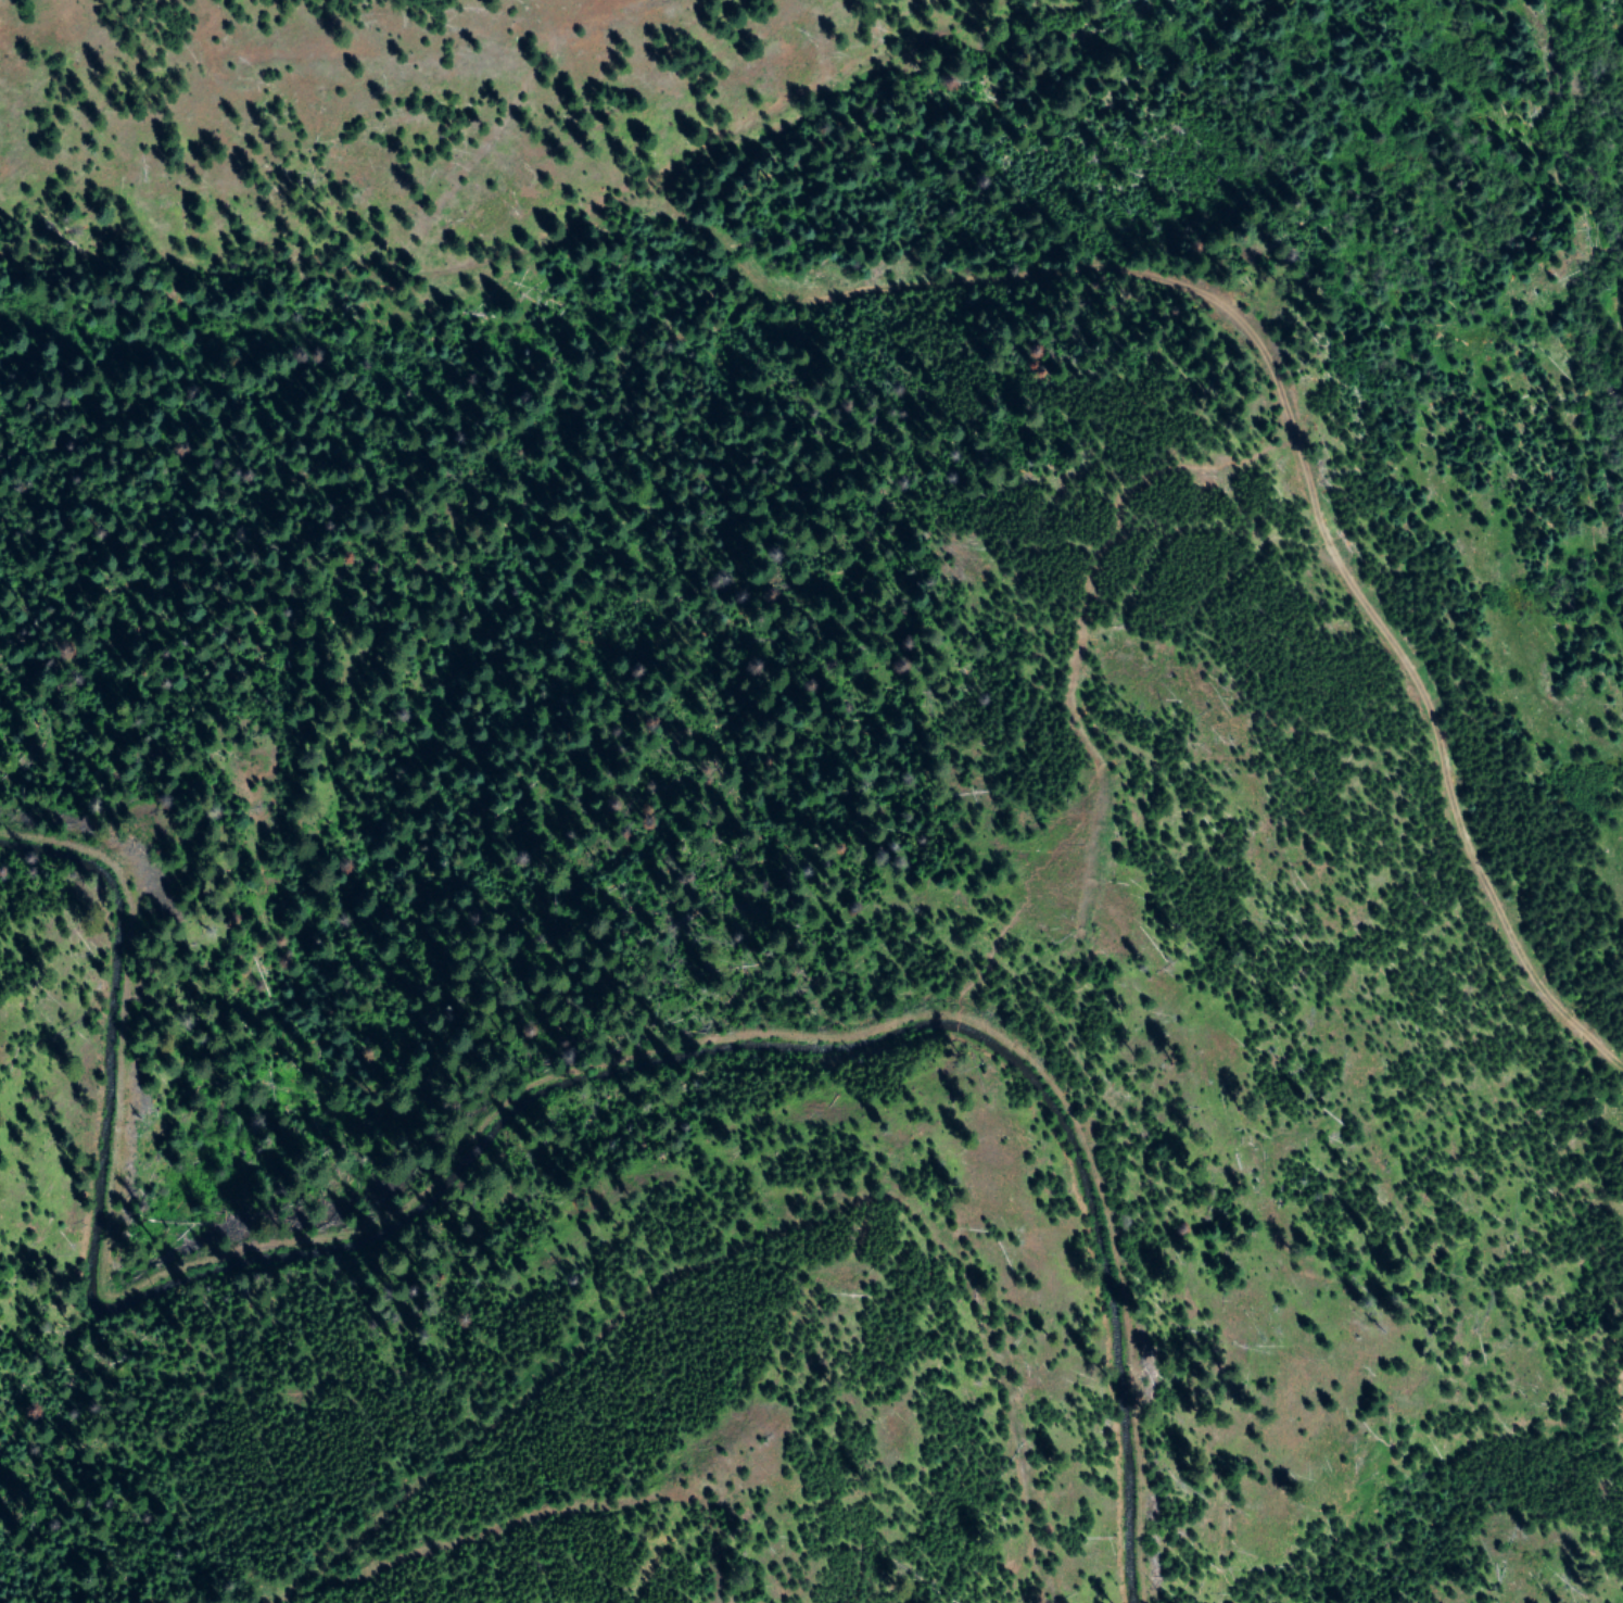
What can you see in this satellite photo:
road: (503, 1136)
road: (570, 1543)

